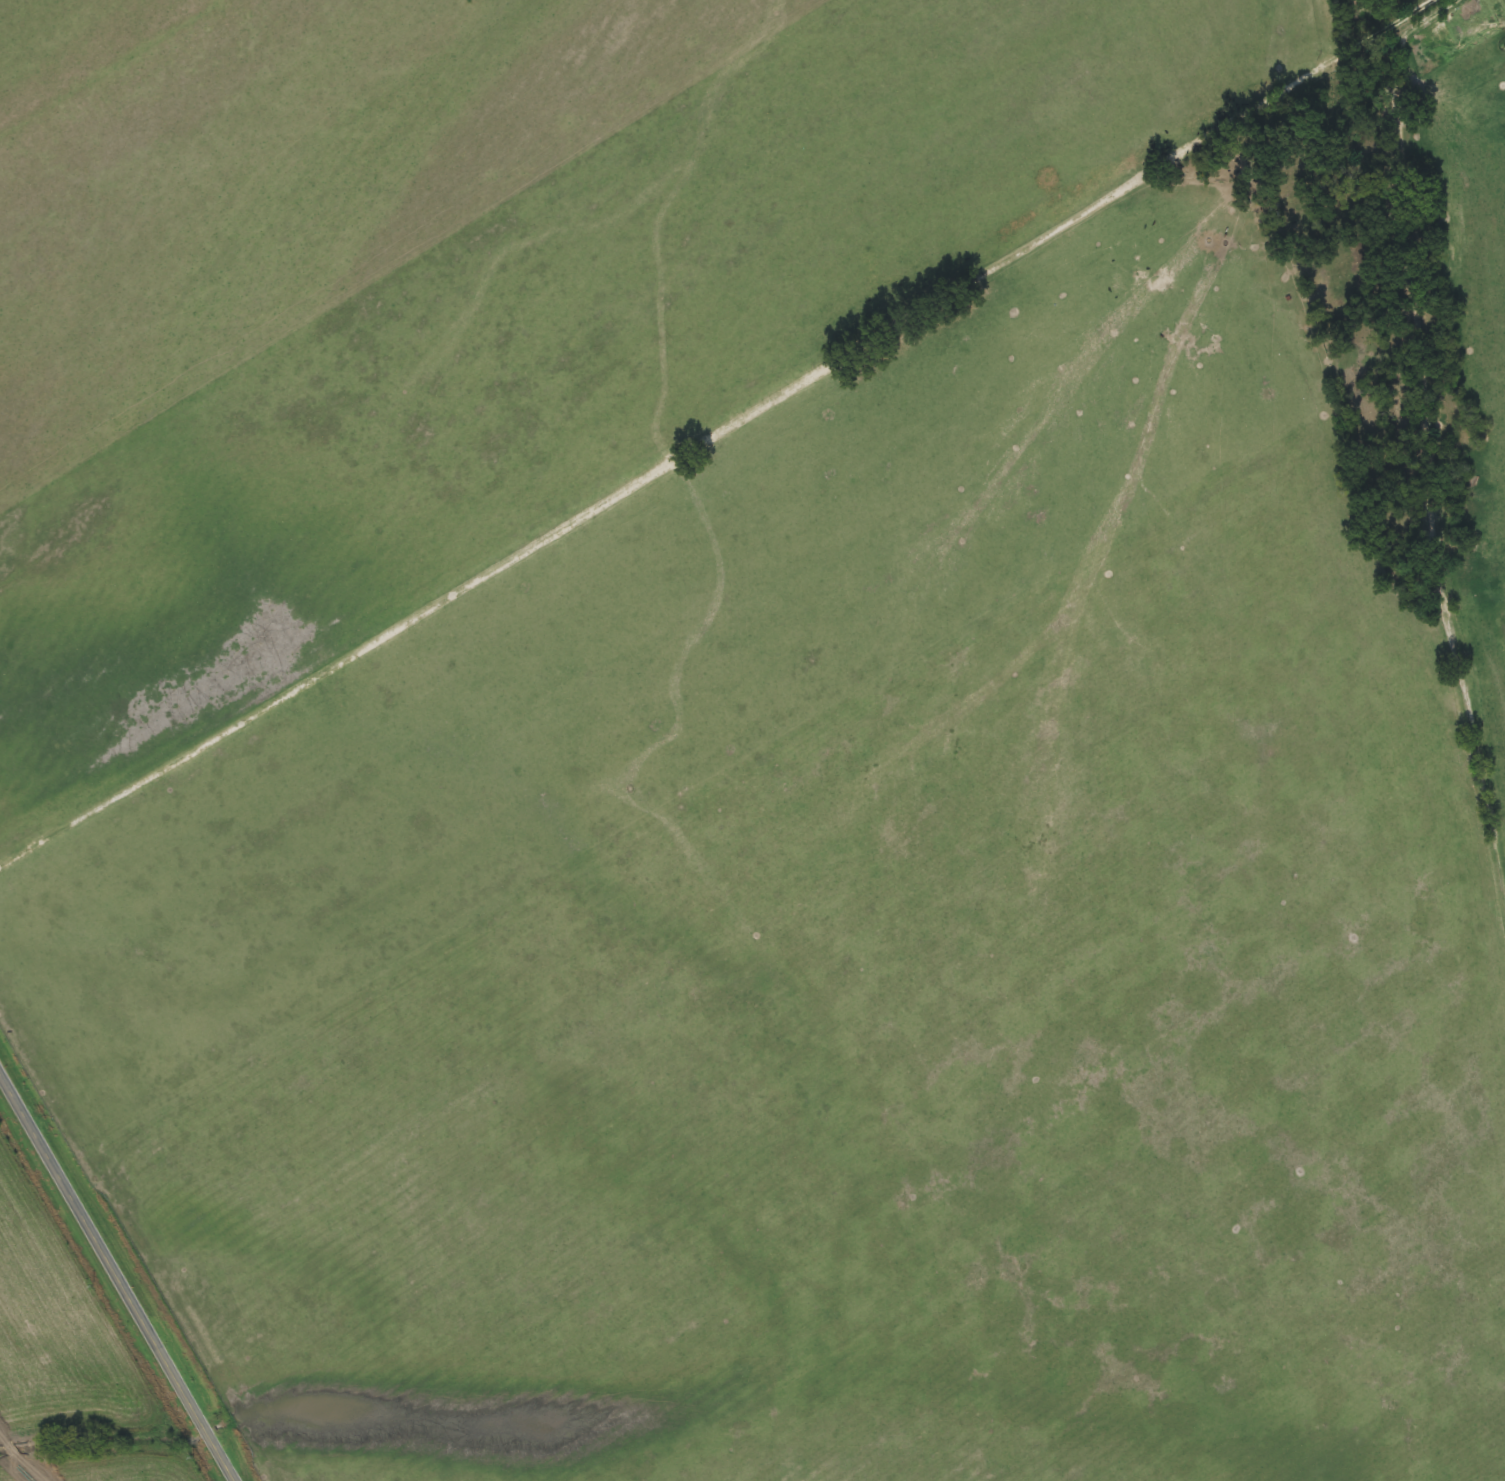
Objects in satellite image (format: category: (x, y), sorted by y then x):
road: (683, 436)
road: (117, 1279)

